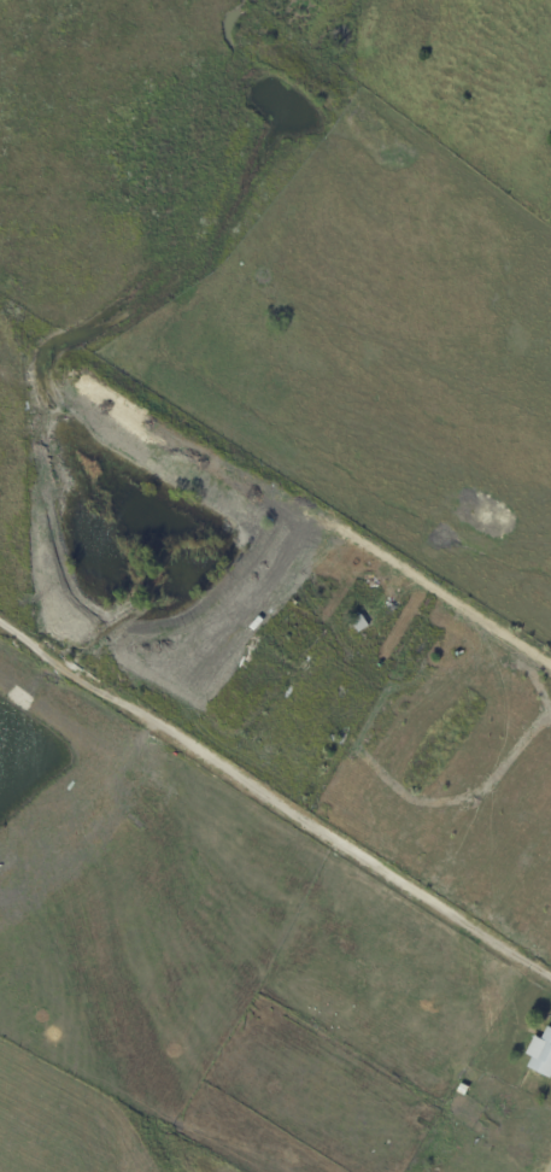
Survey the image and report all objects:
building: (359, 622)
road: (275, 797)
building: (540, 1054)
building: (462, 1089)
road: (549, 1170)

